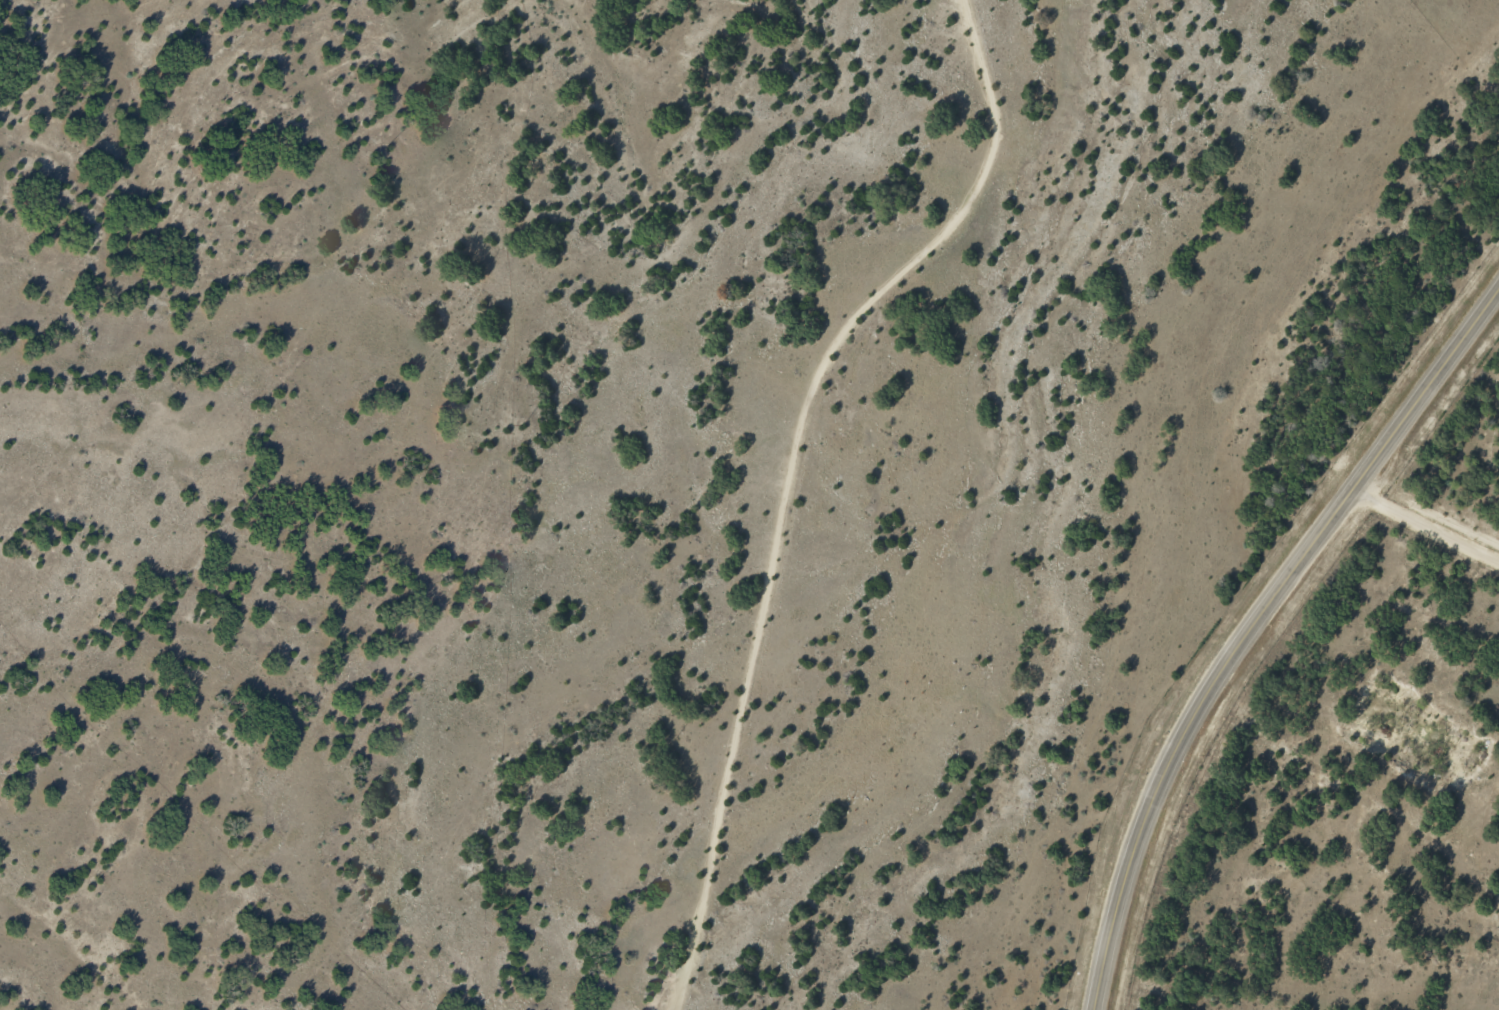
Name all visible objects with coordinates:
road: (1429, 522)
road: (1257, 634)

